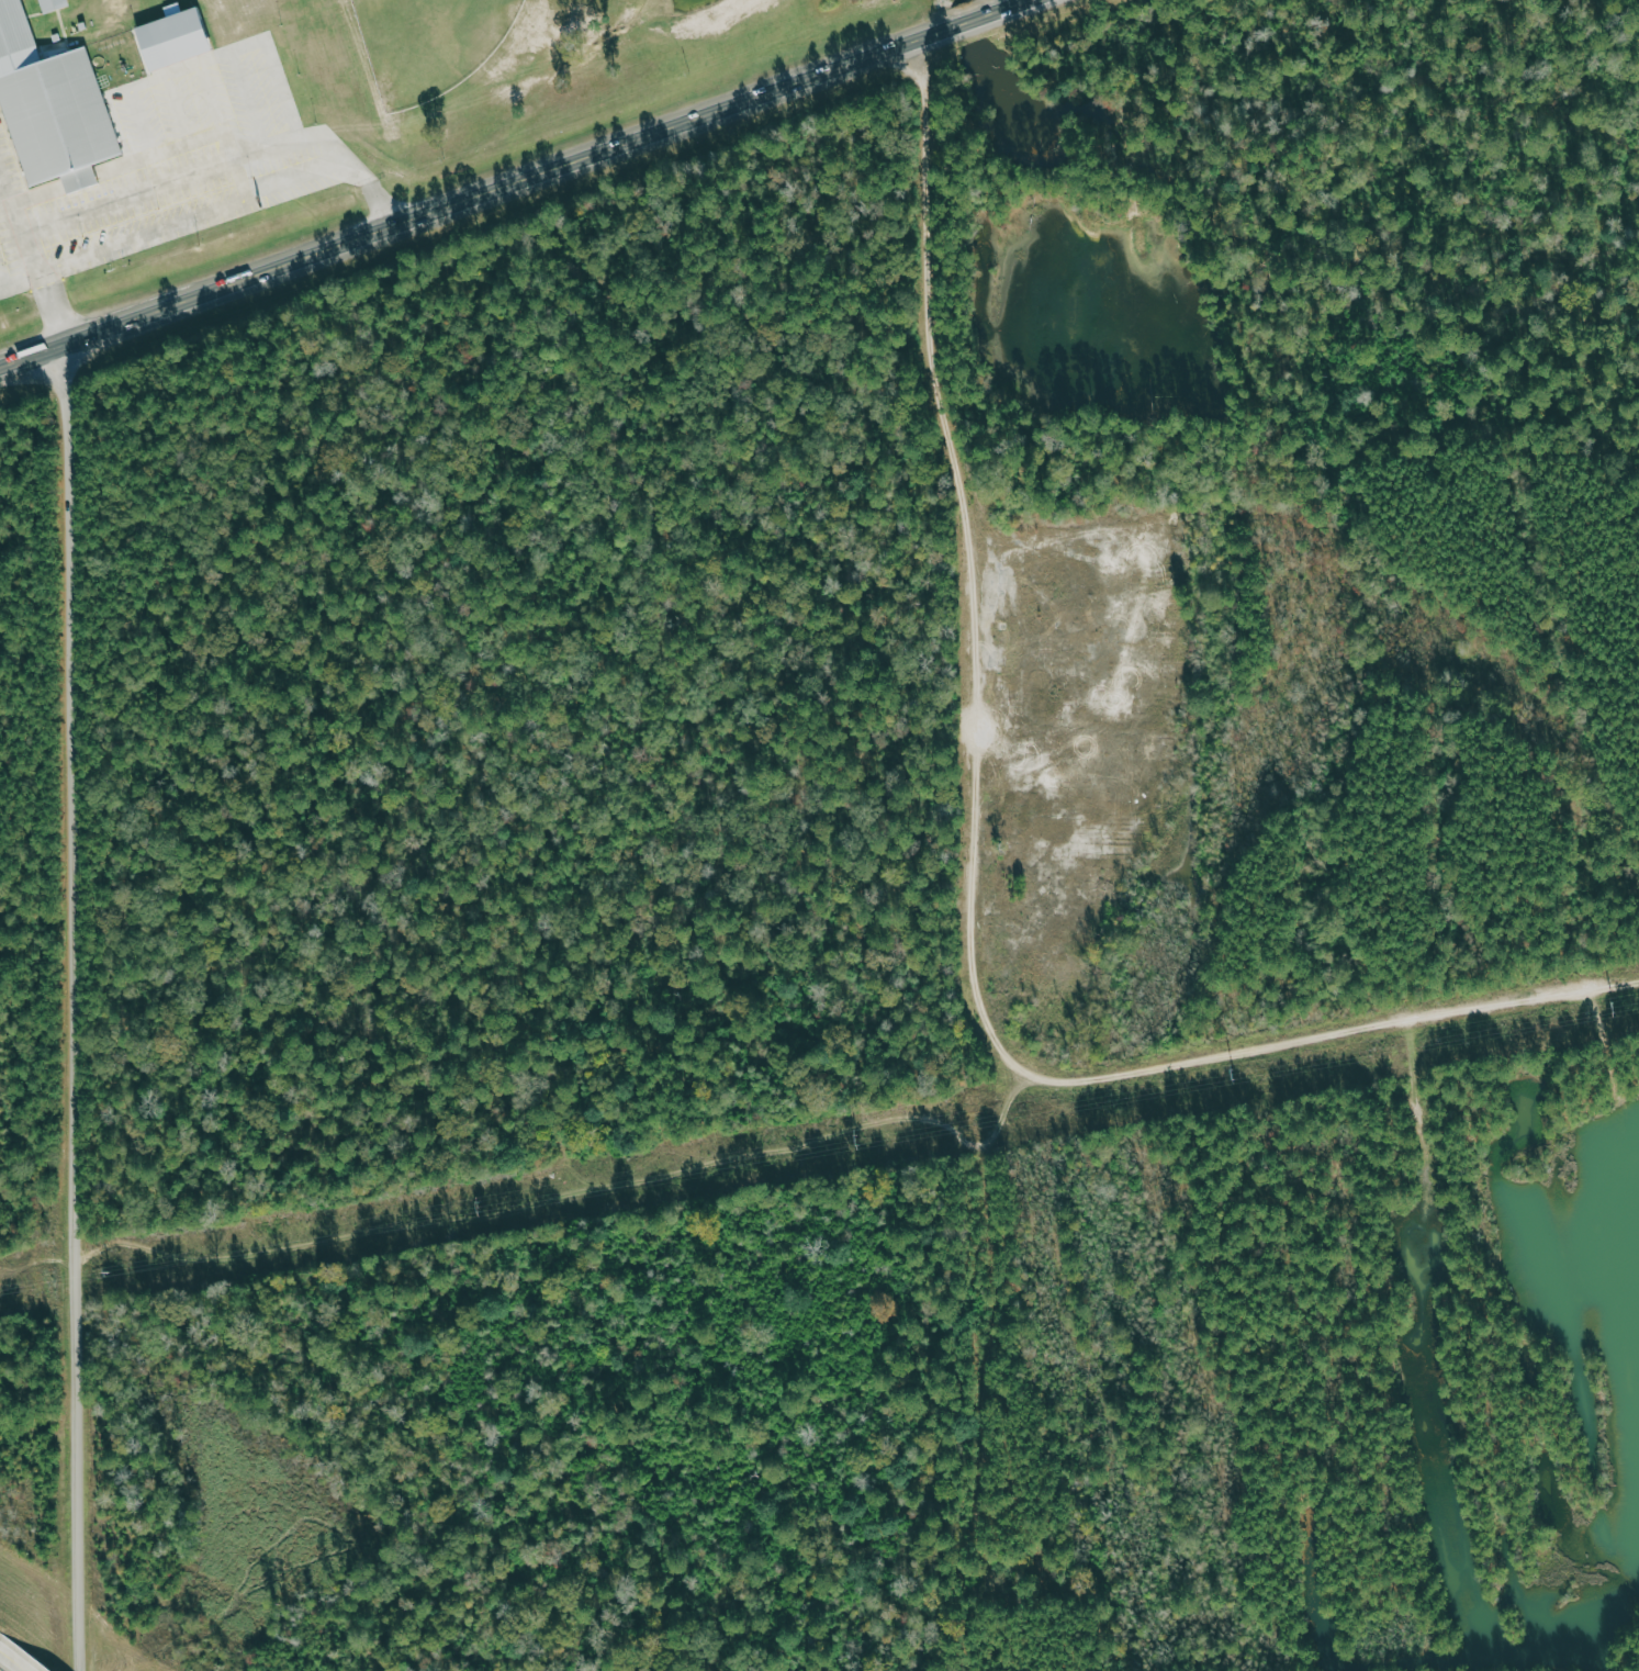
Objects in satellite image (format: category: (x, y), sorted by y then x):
building: (52, 4)
building: (173, 40)
building: (50, 103)
road: (300, 160)
building: (79, 179)
road: (80, 179)
road: (484, 184)
road: (41, 194)
road: (239, 198)
road: (379, 202)
road: (34, 245)
power tower: (1617, 1008)
road: (69, 1009)
power tower: (1235, 1076)
power tower: (861, 1142)
power tower: (484, 1208)
power tower: (112, 1274)
road: (7, 1655)
road: (20, 1666)

